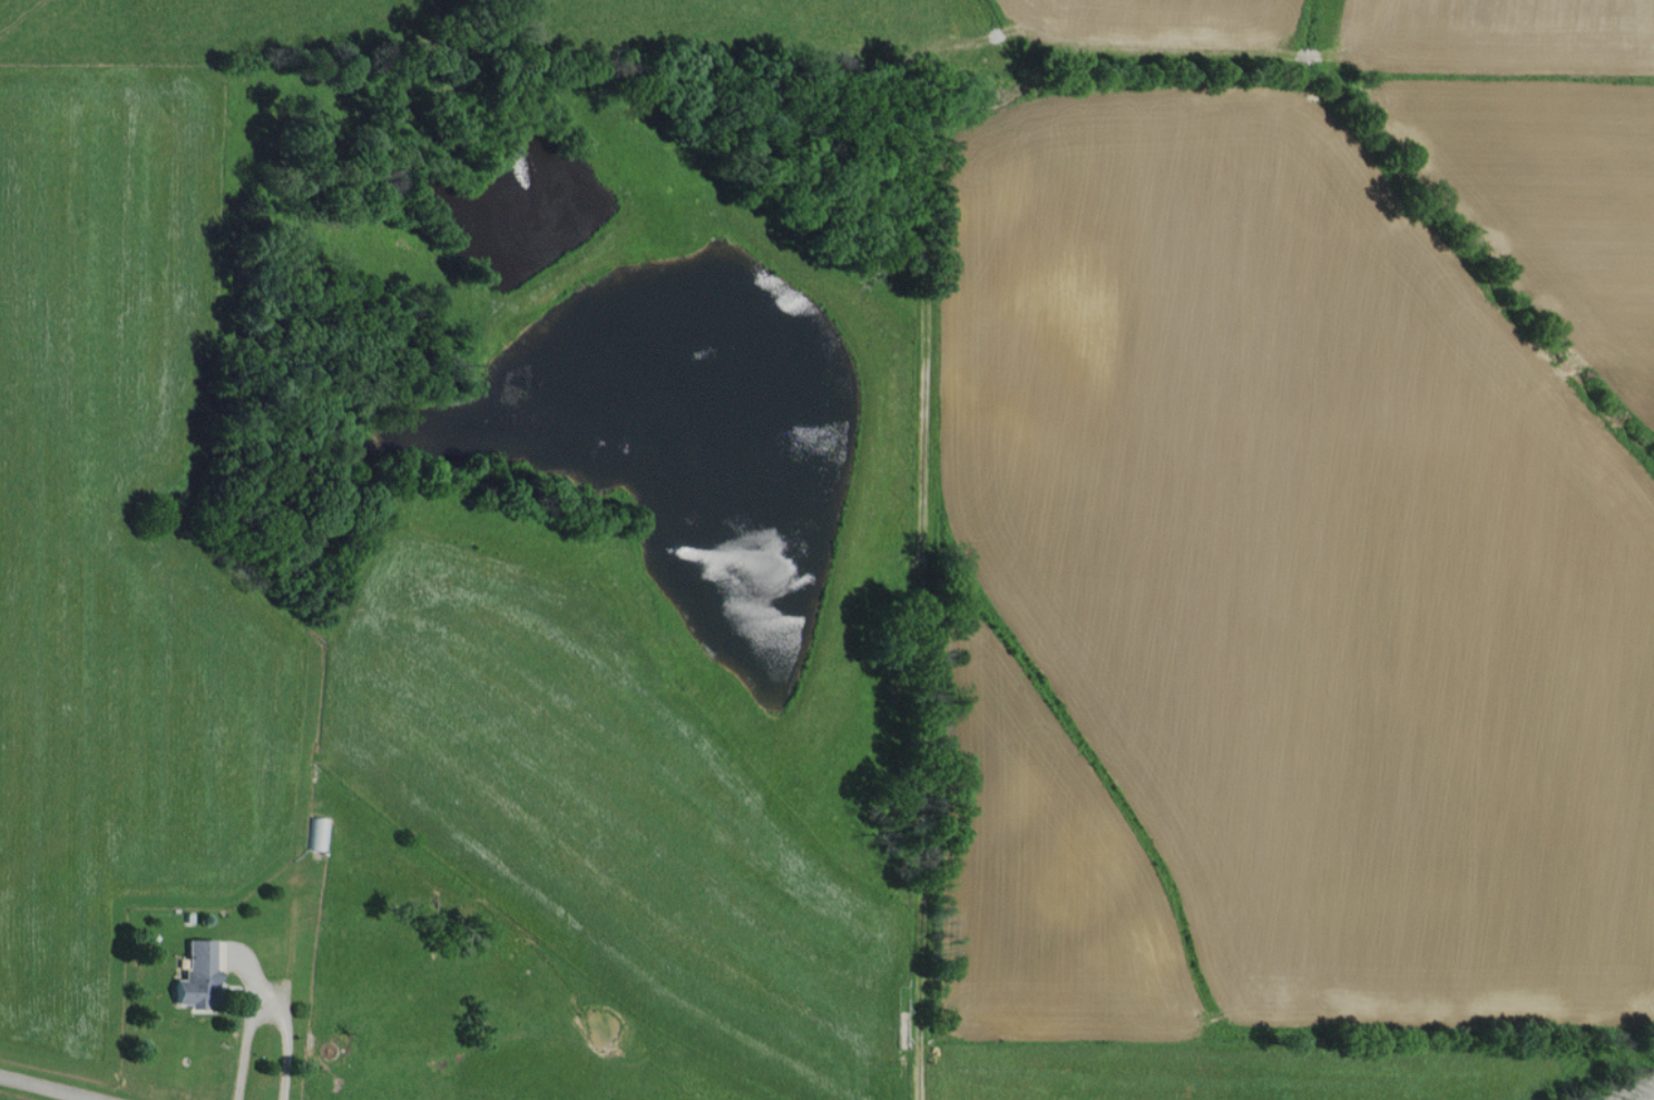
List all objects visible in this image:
building: (200, 975)
road: (35, 1091)
road: (1636, 1094)

